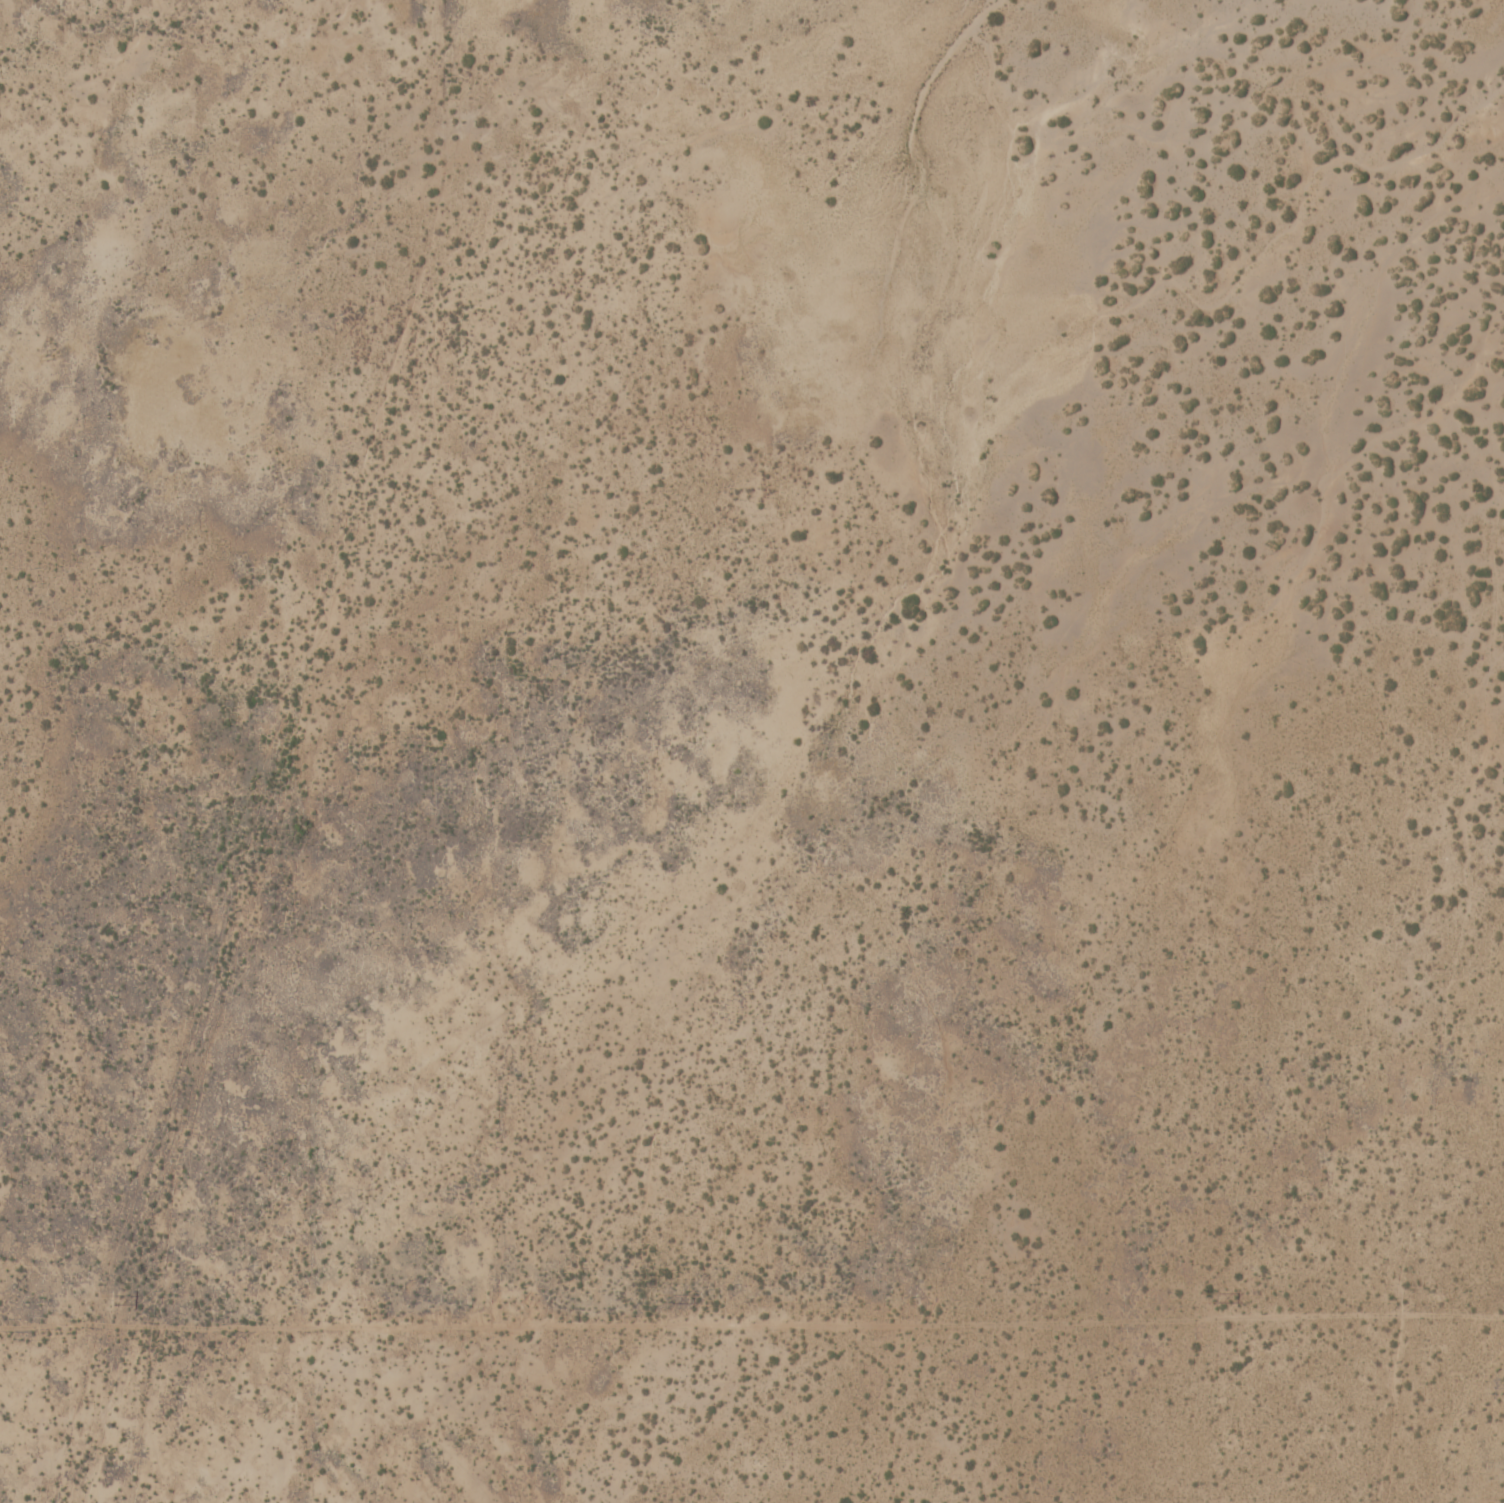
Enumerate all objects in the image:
power tower: (654, 1298)
power tower: (1200, 1298)
power tower: (100, 1299)
road: (752, 1321)

